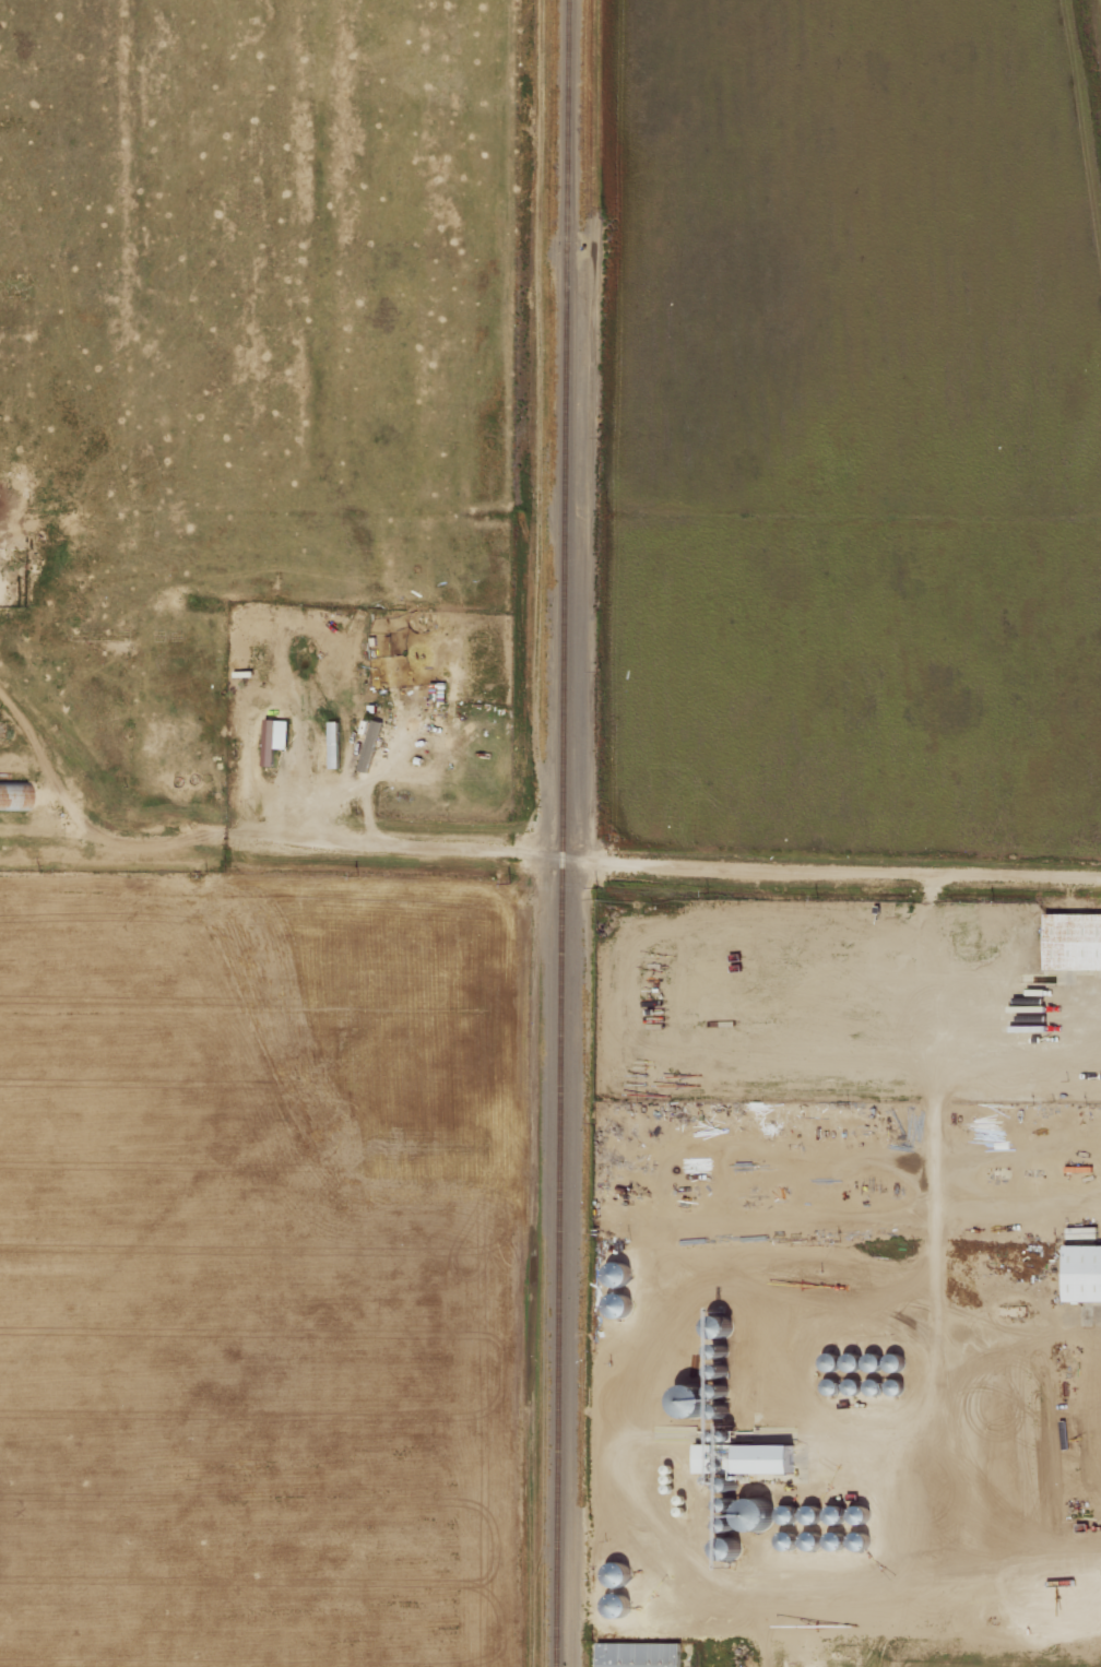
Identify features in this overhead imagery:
building: (274, 738)
building: (15, 795)
railway: (560, 832)
road: (719, 867)
building: (1074, 939)
building: (1082, 1272)
building: (709, 1457)
building: (770, 1457)
building: (640, 1654)

